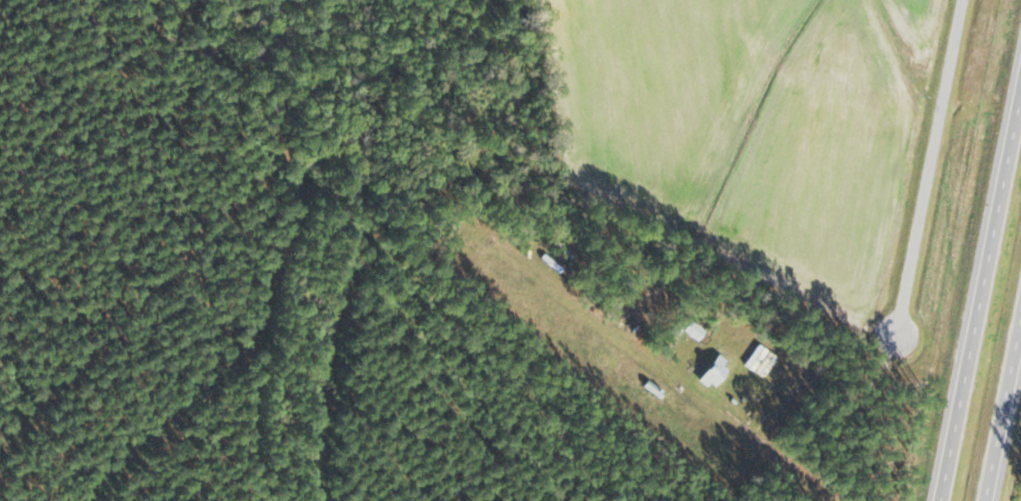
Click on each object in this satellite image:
road: (930, 168)
road: (980, 296)
building: (691, 330)
road: (1002, 409)

